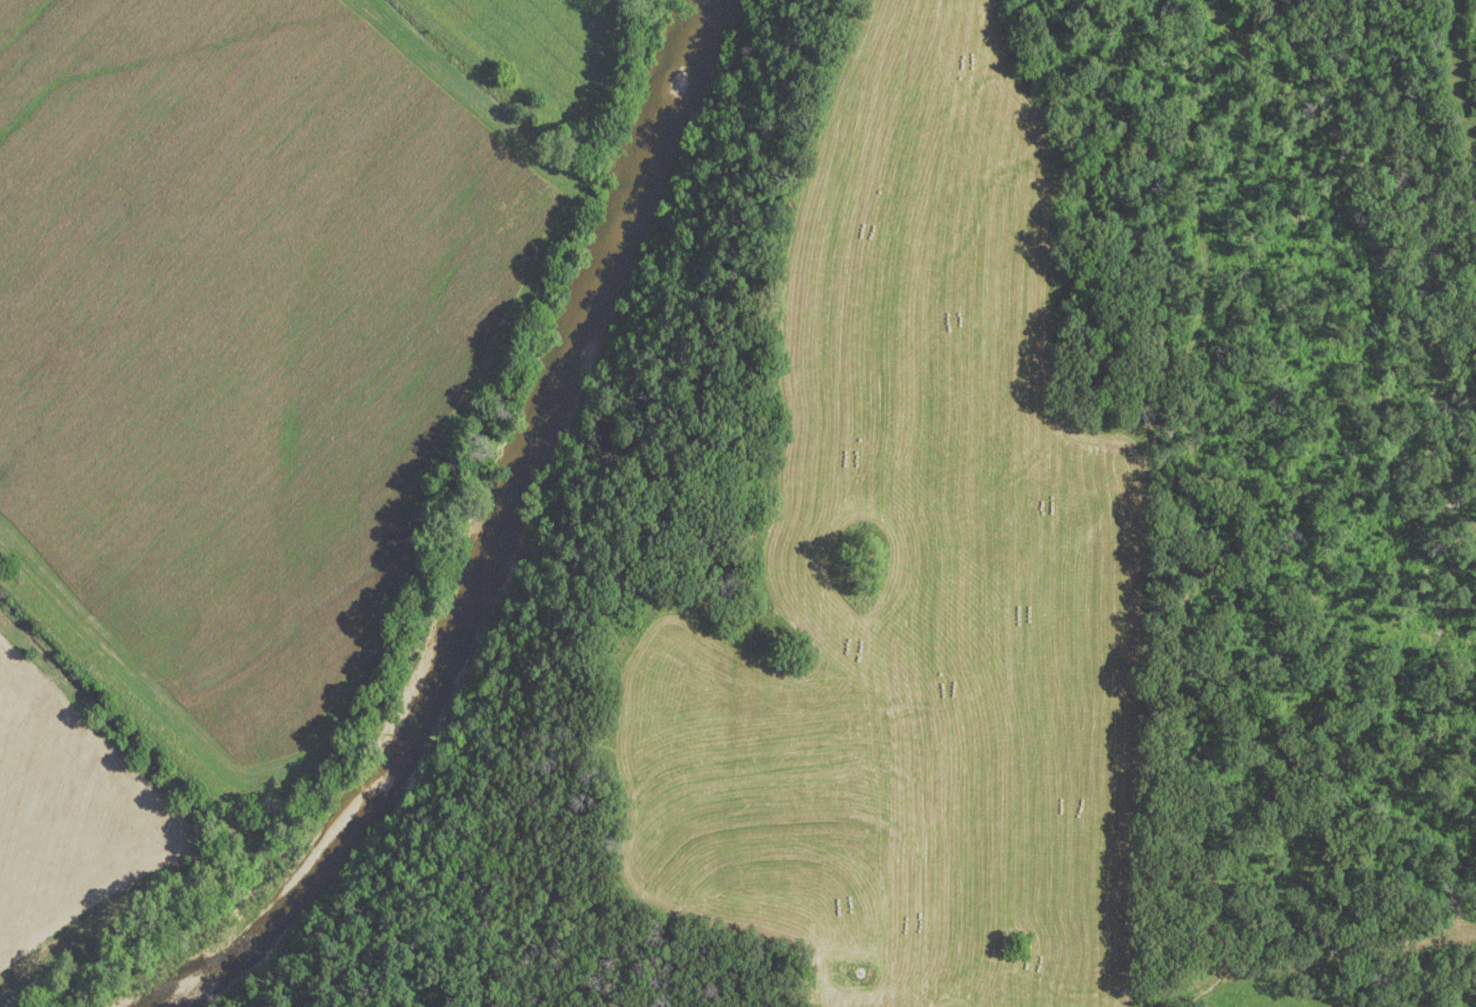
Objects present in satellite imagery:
river: (499, 550)

